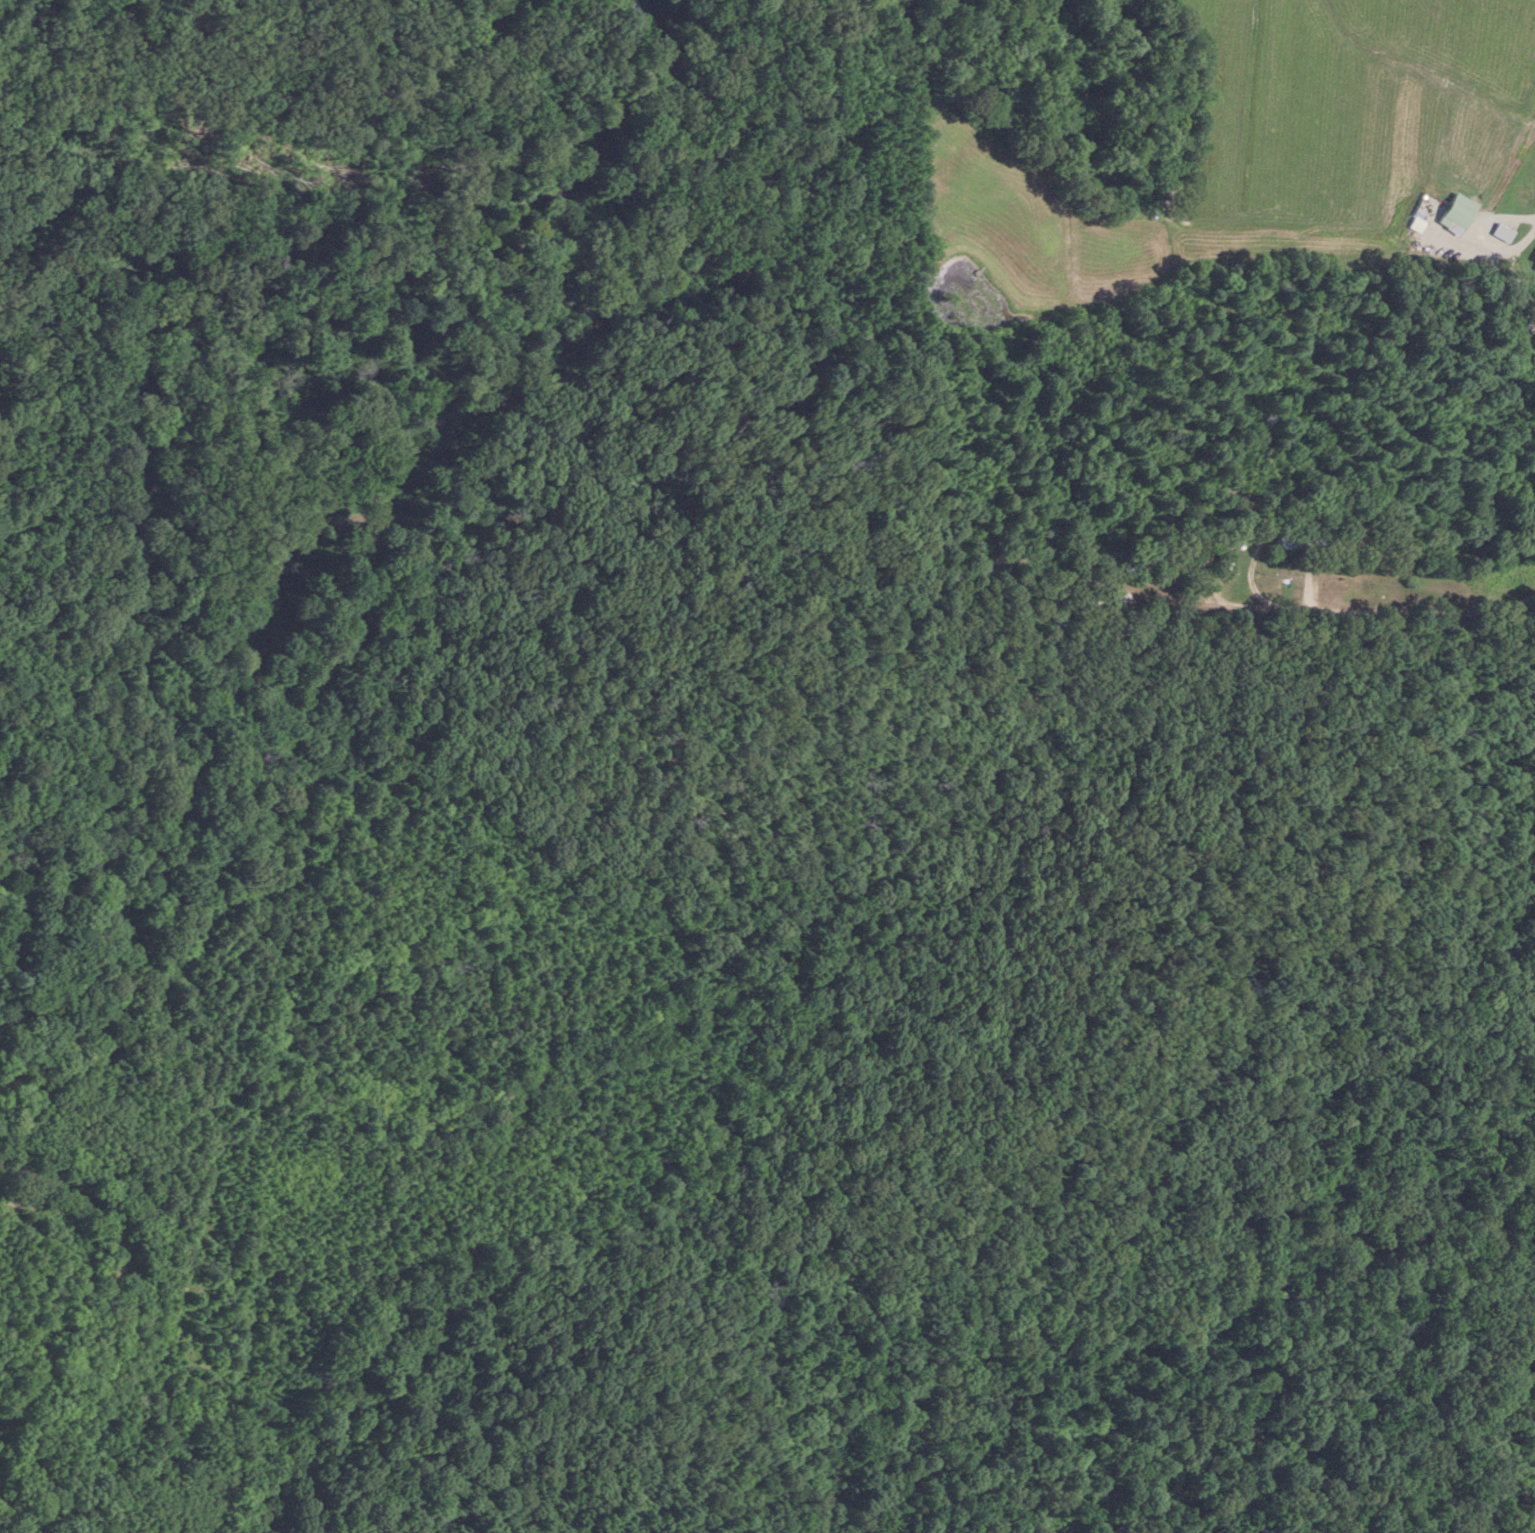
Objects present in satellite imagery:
building: (1457, 213)
building: (1505, 233)
building: (1293, 541)
building: (1124, 565)
road: (1354, 626)

